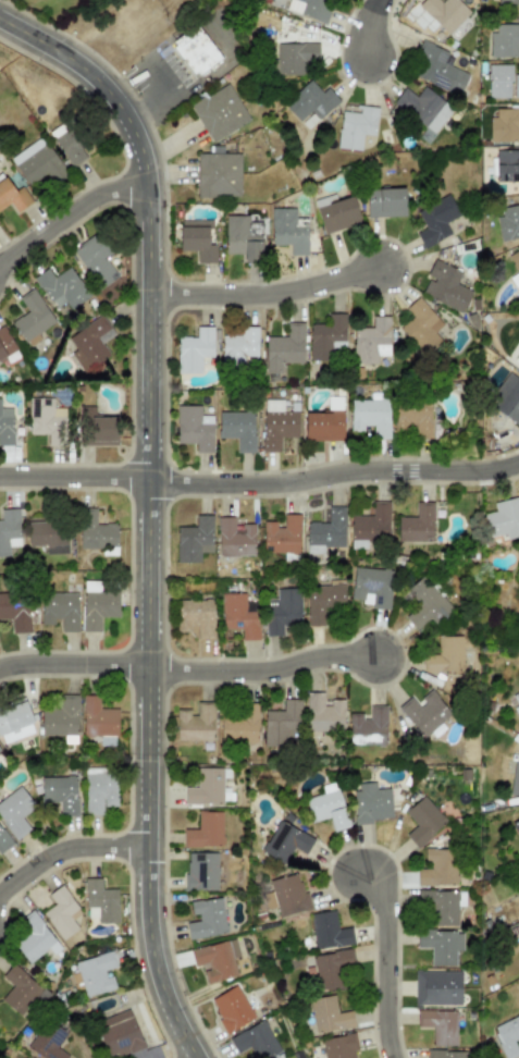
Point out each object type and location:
building: (508, 1)
building: (309, 8)
building: (444, 12)
road: (370, 26)
building: (504, 40)
building: (195, 50)
building: (294, 57)
building: (438, 70)
building: (498, 81)
building: (516, 86)
building: (310, 101)
building: (422, 108)
building: (219, 113)
building: (504, 125)
building: (356, 126)
building: (70, 148)
building: (37, 162)
building: (506, 165)
building: (218, 175)
building: (12, 195)
building: (385, 202)
road: (66, 209)
building: (335, 212)
building: (435, 220)
building: (508, 222)
building: (287, 230)
building: (243, 237)
building: (198, 238)
building: (96, 258)
building: (515, 259)
building: (445, 285)
building: (61, 287)
road: (262, 291)
building: (32, 318)
building: (420, 327)
building: (326, 337)
building: (371, 341)
building: (5, 343)
building: (89, 345)
building: (239, 346)
building: (194, 349)
building: (283, 349)
building: (516, 360)
building: (507, 397)
building: (370, 416)
building: (413, 417)
building: (46, 419)
building: (5, 426)
building: (323, 426)
building: (96, 428)
building: (194, 428)
building: (277, 428)
building: (237, 429)
road: (260, 479)
road: (143, 509)
building: (504, 518)
building: (416, 524)
building: (370, 526)
building: (9, 530)
building: (96, 531)
building: (325, 531)
building: (48, 537)
building: (282, 537)
building: (234, 538)
building: (194, 540)
building: (372, 586)
building: (322, 600)
building: (427, 604)
building: (97, 605)
building: (59, 610)
building: (15, 611)
building: (282, 611)
building: (239, 615)
building: (195, 617)
building: (445, 655)
road: (72, 661)
road: (259, 667)
building: (518, 696)
building: (423, 712)
building: (323, 713)
building: (60, 717)
building: (98, 721)
building: (14, 723)
building: (195, 723)
building: (281, 724)
building: (238, 726)
building: (368, 726)
building: (516, 774)
building: (208, 787)
building: (99, 789)
building: (60, 794)
building: (370, 802)
building: (328, 807)
building: (15, 812)
building: (422, 821)
building: (516, 826)
building: (205, 829)
building: (4, 840)
building: (284, 841)
road: (65, 844)
building: (437, 868)
building: (201, 871)
building: (288, 895)
building: (100, 899)
building: (441, 905)
building: (61, 913)
building: (206, 918)
building: (328, 930)
building: (34, 938)
building: (441, 945)
building: (215, 959)
road: (387, 961)
building: (331, 969)
building: (95, 973)
building: (436, 987)
building: (18, 989)
building: (231, 1008)
building: (329, 1014)
building: (438, 1025)
building: (120, 1035)
building: (507, 1036)
building: (48, 1042)
building: (256, 1042)
building: (338, 1046)
building: (444, 1054)

